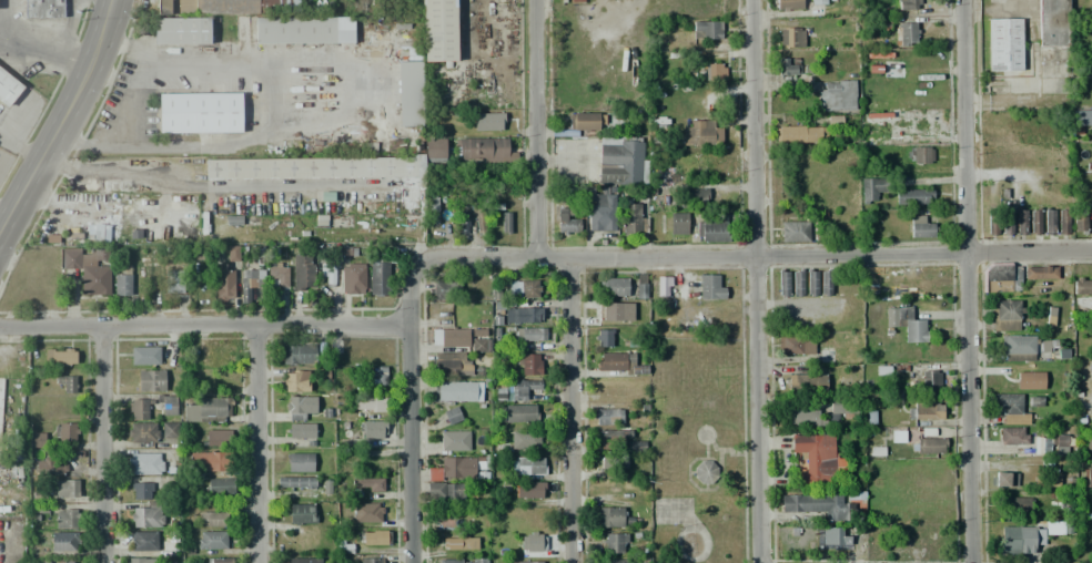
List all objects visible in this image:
building: (818, 2)
building: (789, 4)
building: (908, 4)
building: (223, 7)
building: (43, 9)
building: (1055, 23)
building: (878, 24)
building: (180, 30)
building: (303, 30)
building: (438, 30)
building: (707, 30)
building: (904, 34)
building: (790, 37)
building: (1004, 44)
building: (786, 65)
building: (712, 72)
building: (8, 88)
building: (410, 89)
road: (49, 95)
building: (837, 95)
building: (199, 112)
building: (1081, 117)
road: (61, 121)
building: (488, 121)
building: (584, 121)
road: (536, 129)
building: (700, 132)
building: (800, 134)
building: (483, 150)
building: (436, 155)
building: (919, 155)
building: (621, 162)
building: (313, 166)
building: (498, 173)
building: (872, 187)
building: (913, 195)
building: (689, 197)
building: (601, 213)
building: (433, 215)
building: (477, 216)
building: (1049, 217)
building: (633, 221)
building: (1021, 221)
building: (1034, 221)
building: (1063, 221)
building: (506, 222)
building: (566, 222)
building: (1005, 222)
building: (463, 223)
building: (677, 223)
building: (992, 223)
building: (1079, 223)
building: (921, 225)
building: (711, 229)
building: (795, 232)
building: (100, 233)
building: (232, 254)
road: (749, 260)
building: (88, 269)
building: (302, 272)
building: (1040, 273)
building: (328, 276)
building: (277, 277)
building: (352, 277)
building: (381, 277)
building: (1000, 277)
road: (756, 280)
building: (122, 281)
building: (173, 281)
building: (224, 281)
building: (825, 281)
road: (962, 281)
building: (797, 283)
building: (250, 284)
building: (782, 284)
building: (811, 284)
building: (1082, 285)
building: (640, 286)
building: (664, 286)
building: (711, 286)
building: (613, 287)
building: (523, 289)
building: (446, 290)
building: (1082, 305)
building: (617, 310)
building: (526, 314)
building: (1005, 315)
building: (906, 324)
road: (201, 332)
building: (528, 334)
building: (603, 337)
building: (453, 338)
building: (479, 340)
building: (796, 345)
building: (1023, 346)
building: (215, 354)
building: (297, 354)
building: (144, 355)
building: (59, 357)
building: (452, 364)
building: (619, 364)
building: (528, 365)
building: (1090, 369)
building: (374, 376)
building: (931, 379)
building: (150, 380)
building: (1030, 380)
building: (295, 381)
building: (67, 382)
building: (806, 383)
building: (520, 389)
building: (456, 391)
building: (371, 403)
building: (168, 408)
building: (301, 408)
building: (841, 408)
building: (138, 409)
building: (1011, 409)
building: (205, 410)
building: (924, 411)
road: (569, 412)
building: (522, 413)
building: (452, 416)
road: (406, 417)
building: (607, 417)
building: (803, 417)
building: (169, 430)
building: (374, 430)
building: (300, 431)
building: (64, 432)
building: (142, 432)
building: (1013, 436)
building: (218, 437)
building: (610, 437)
building: (898, 438)
building: (524, 439)
building: (37, 440)
building: (455, 440)
building: (1089, 442)
building: (928, 444)
building: (635, 446)
road: (108, 448)
road: (261, 448)
building: (813, 460)
building: (209, 461)
building: (613, 461)
building: (300, 462)
building: (144, 463)
building: (50, 465)
building: (527, 465)
building: (454, 468)
building: (481, 469)
building: (705, 472)
building: (1089, 474)
building: (1002, 479)
building: (295, 482)
building: (367, 484)
building: (220, 485)
building: (67, 488)
building: (529, 490)
building: (141, 491)
building: (445, 491)
building: (1065, 502)
building: (817, 504)
building: (1017, 506)
building: (146, 513)
building: (302, 513)
building: (367, 513)
building: (608, 516)
building: (65, 518)
building: (212, 519)
building: (477, 521)
building: (1059, 528)
building: (375, 538)
building: (837, 538)
building: (1019, 539)
building: (211, 540)
building: (144, 541)
building: (63, 542)
building: (458, 542)
building: (615, 542)
building: (533, 545)
building: (141, 560)
building: (219, 560)
building: (303, 560)
building: (371, 560)
building: (57, 561)
building: (462, 561)
building: (618, 561)
building: (523, 562)

